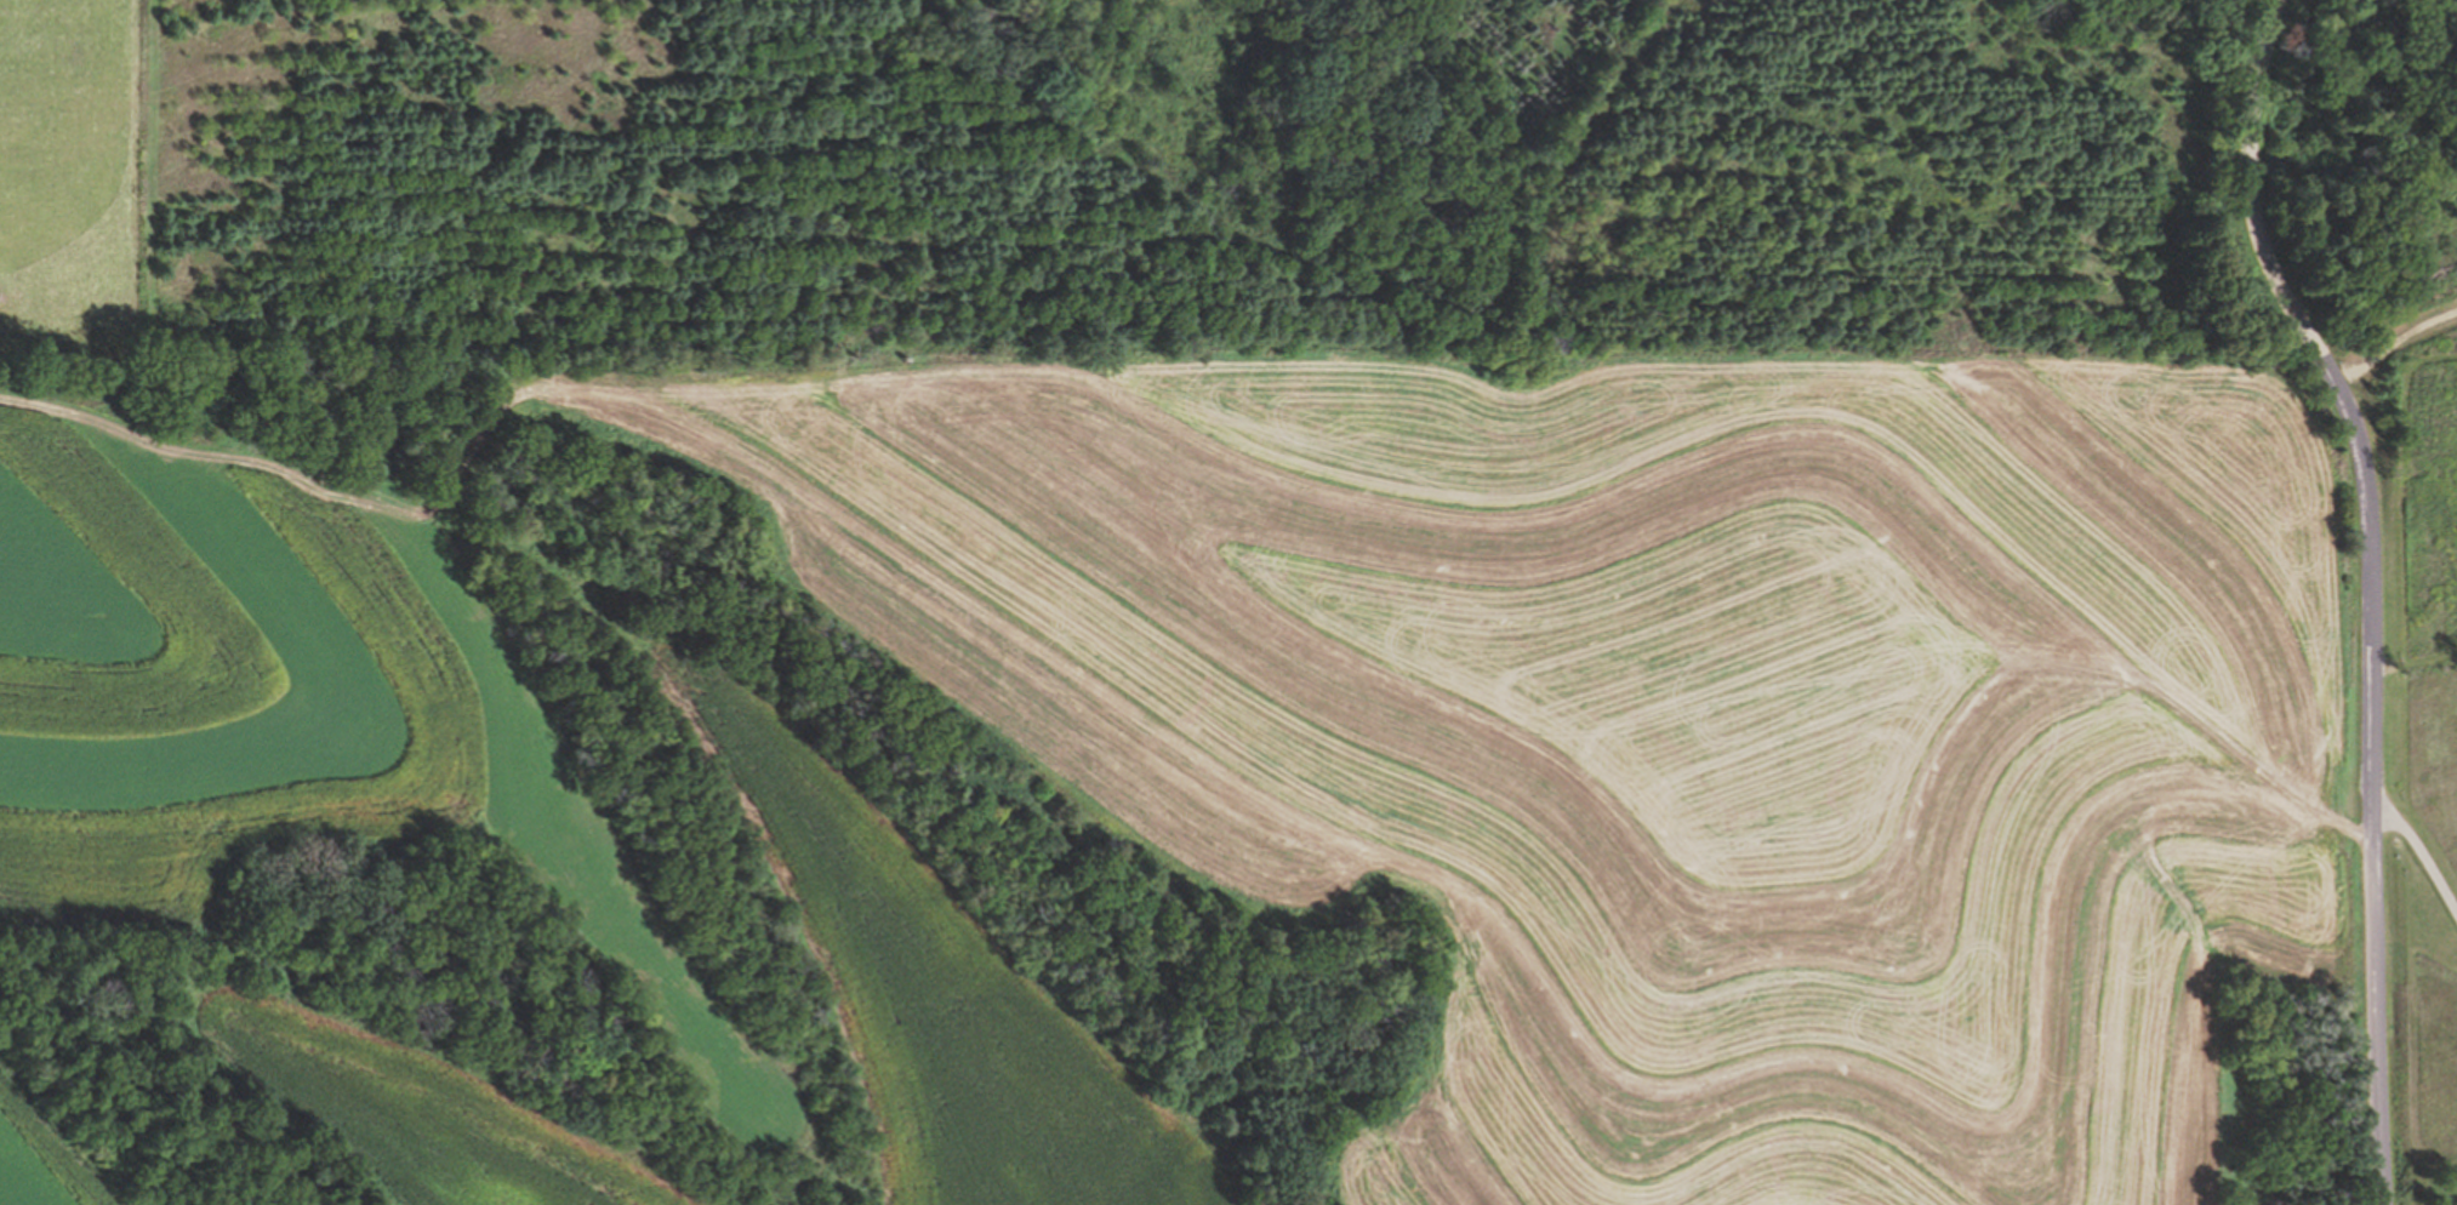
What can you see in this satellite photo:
road: (2370, 588)
road: (2415, 856)

